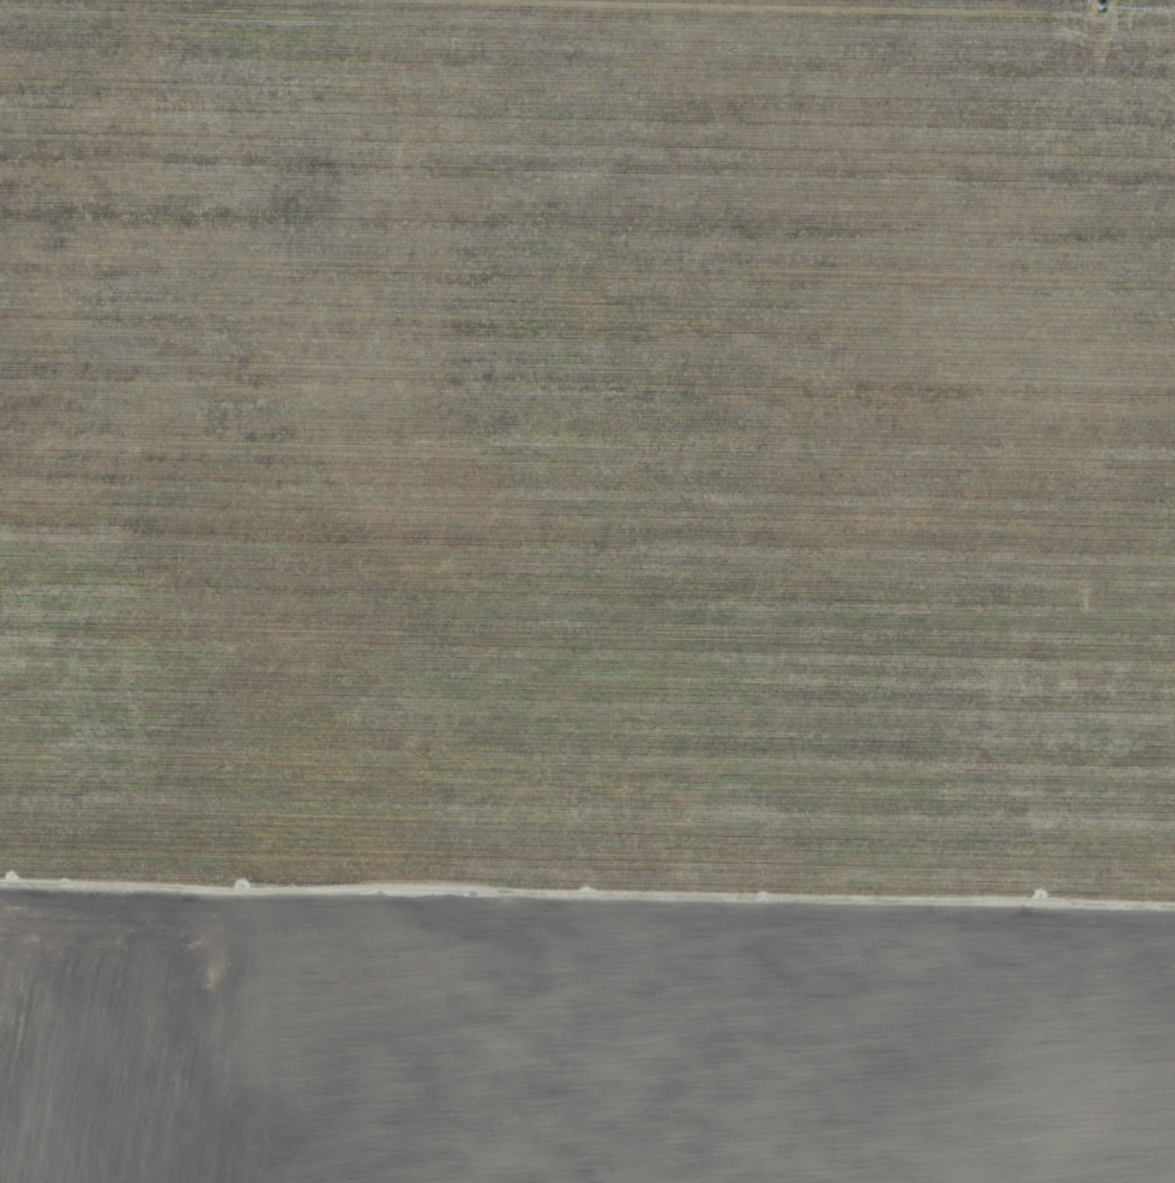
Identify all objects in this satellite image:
road: (587, 883)

